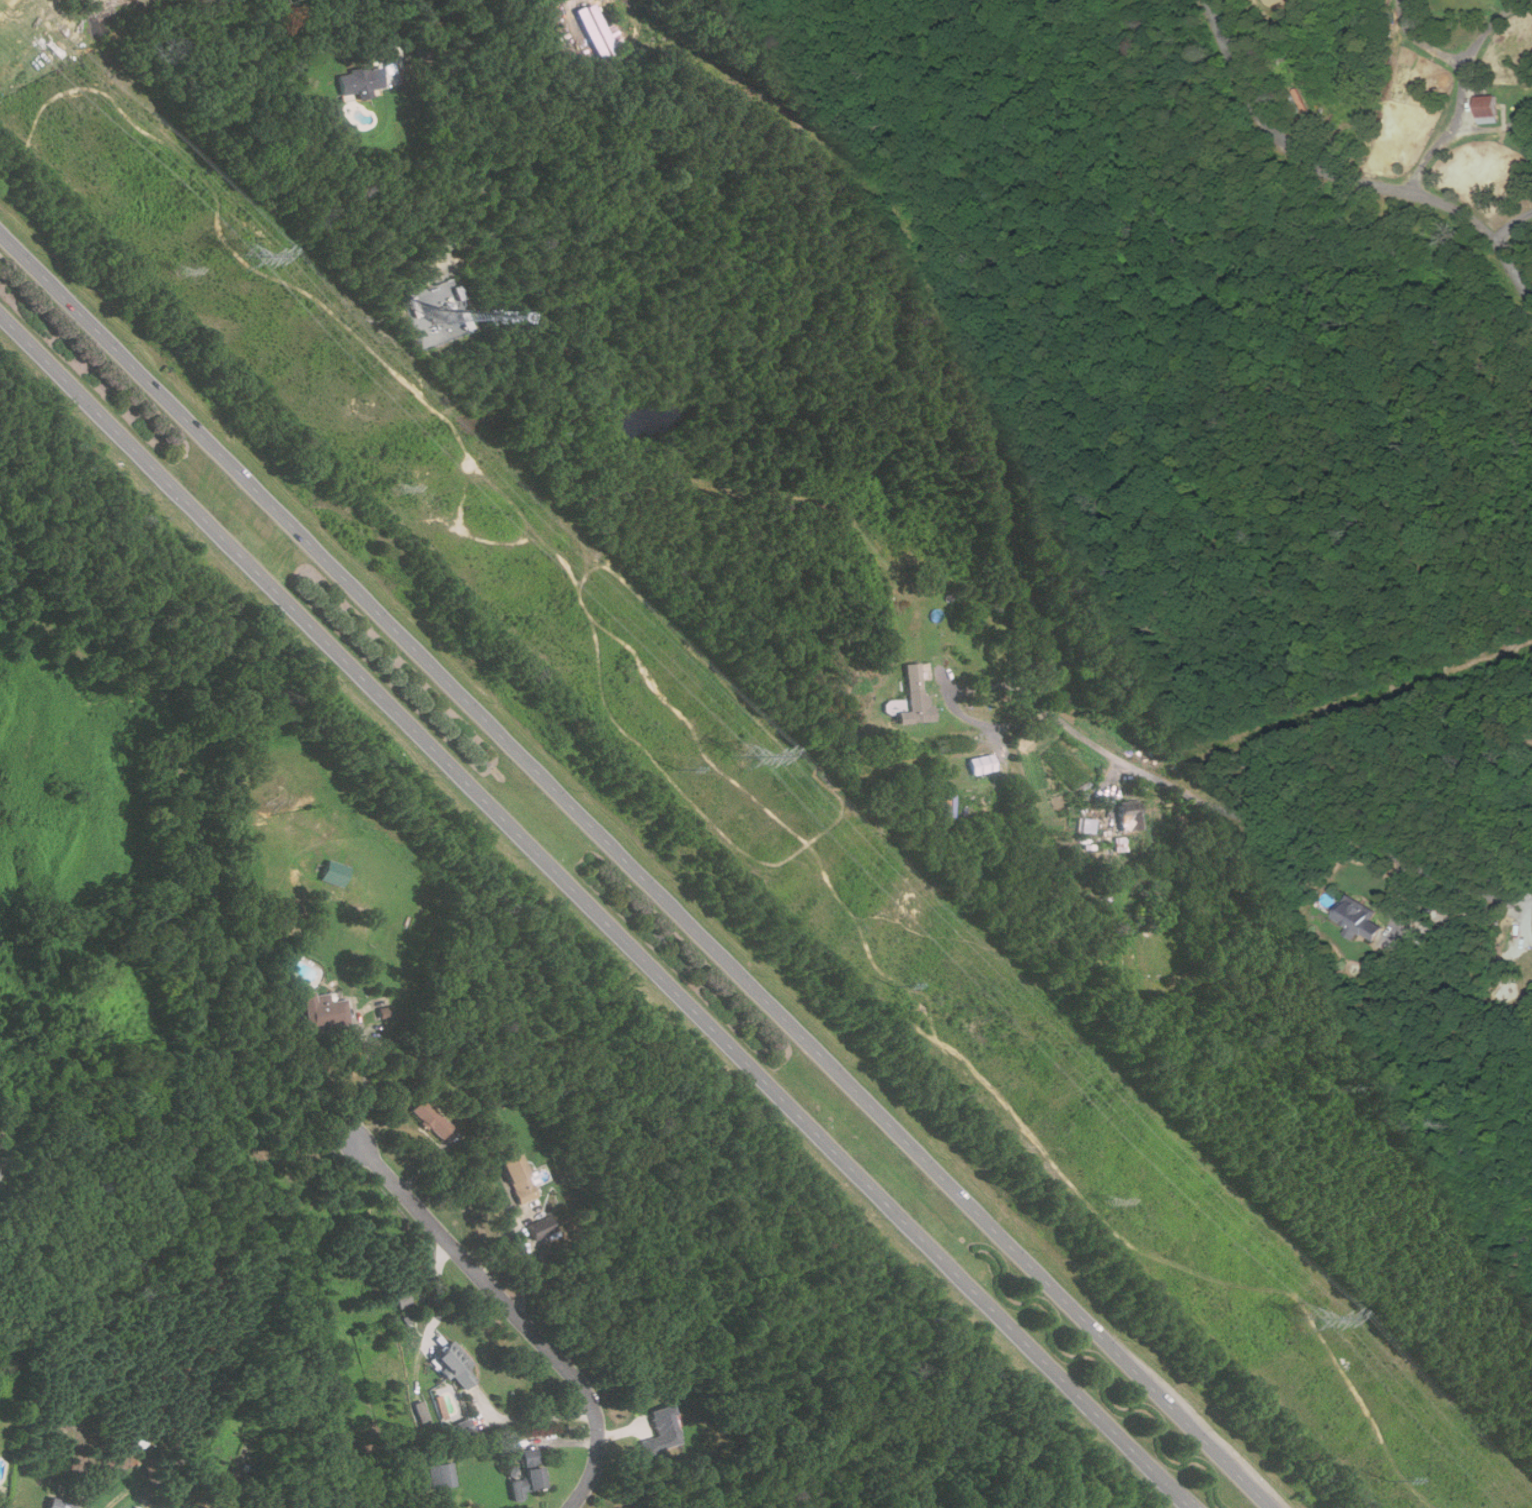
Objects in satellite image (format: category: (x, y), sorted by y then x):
road: (424, 16)
building: (598, 32)
road: (397, 36)
building: (359, 81)
road: (1463, 90)
building: (1490, 109)
road: (1344, 177)
road: (1514, 229)
power tower: (248, 254)
power tower: (180, 271)
building: (439, 313)
power tower: (397, 488)
building: (915, 697)
road: (952, 698)
power tower: (747, 752)
building: (981, 763)
building: (1128, 814)
road: (1284, 823)
building: (1087, 825)
road: (640, 869)
building: (335, 873)
road: (597, 911)
building: (1361, 919)
building: (384, 1010)
building: (325, 1011)
road: (366, 1088)
building: (432, 1119)
building: (519, 1179)
power tower: (1107, 1199)
building: (542, 1227)
road: (439, 1295)
building: (402, 1298)
road: (517, 1311)
power tower: (1311, 1317)
building: (456, 1365)
building: (420, 1411)
road: (534, 1416)
building: (663, 1431)
building: (446, 1475)
building: (530, 1475)
building: (216, 1496)
building: (62, 1504)
building: (137, 1507)

